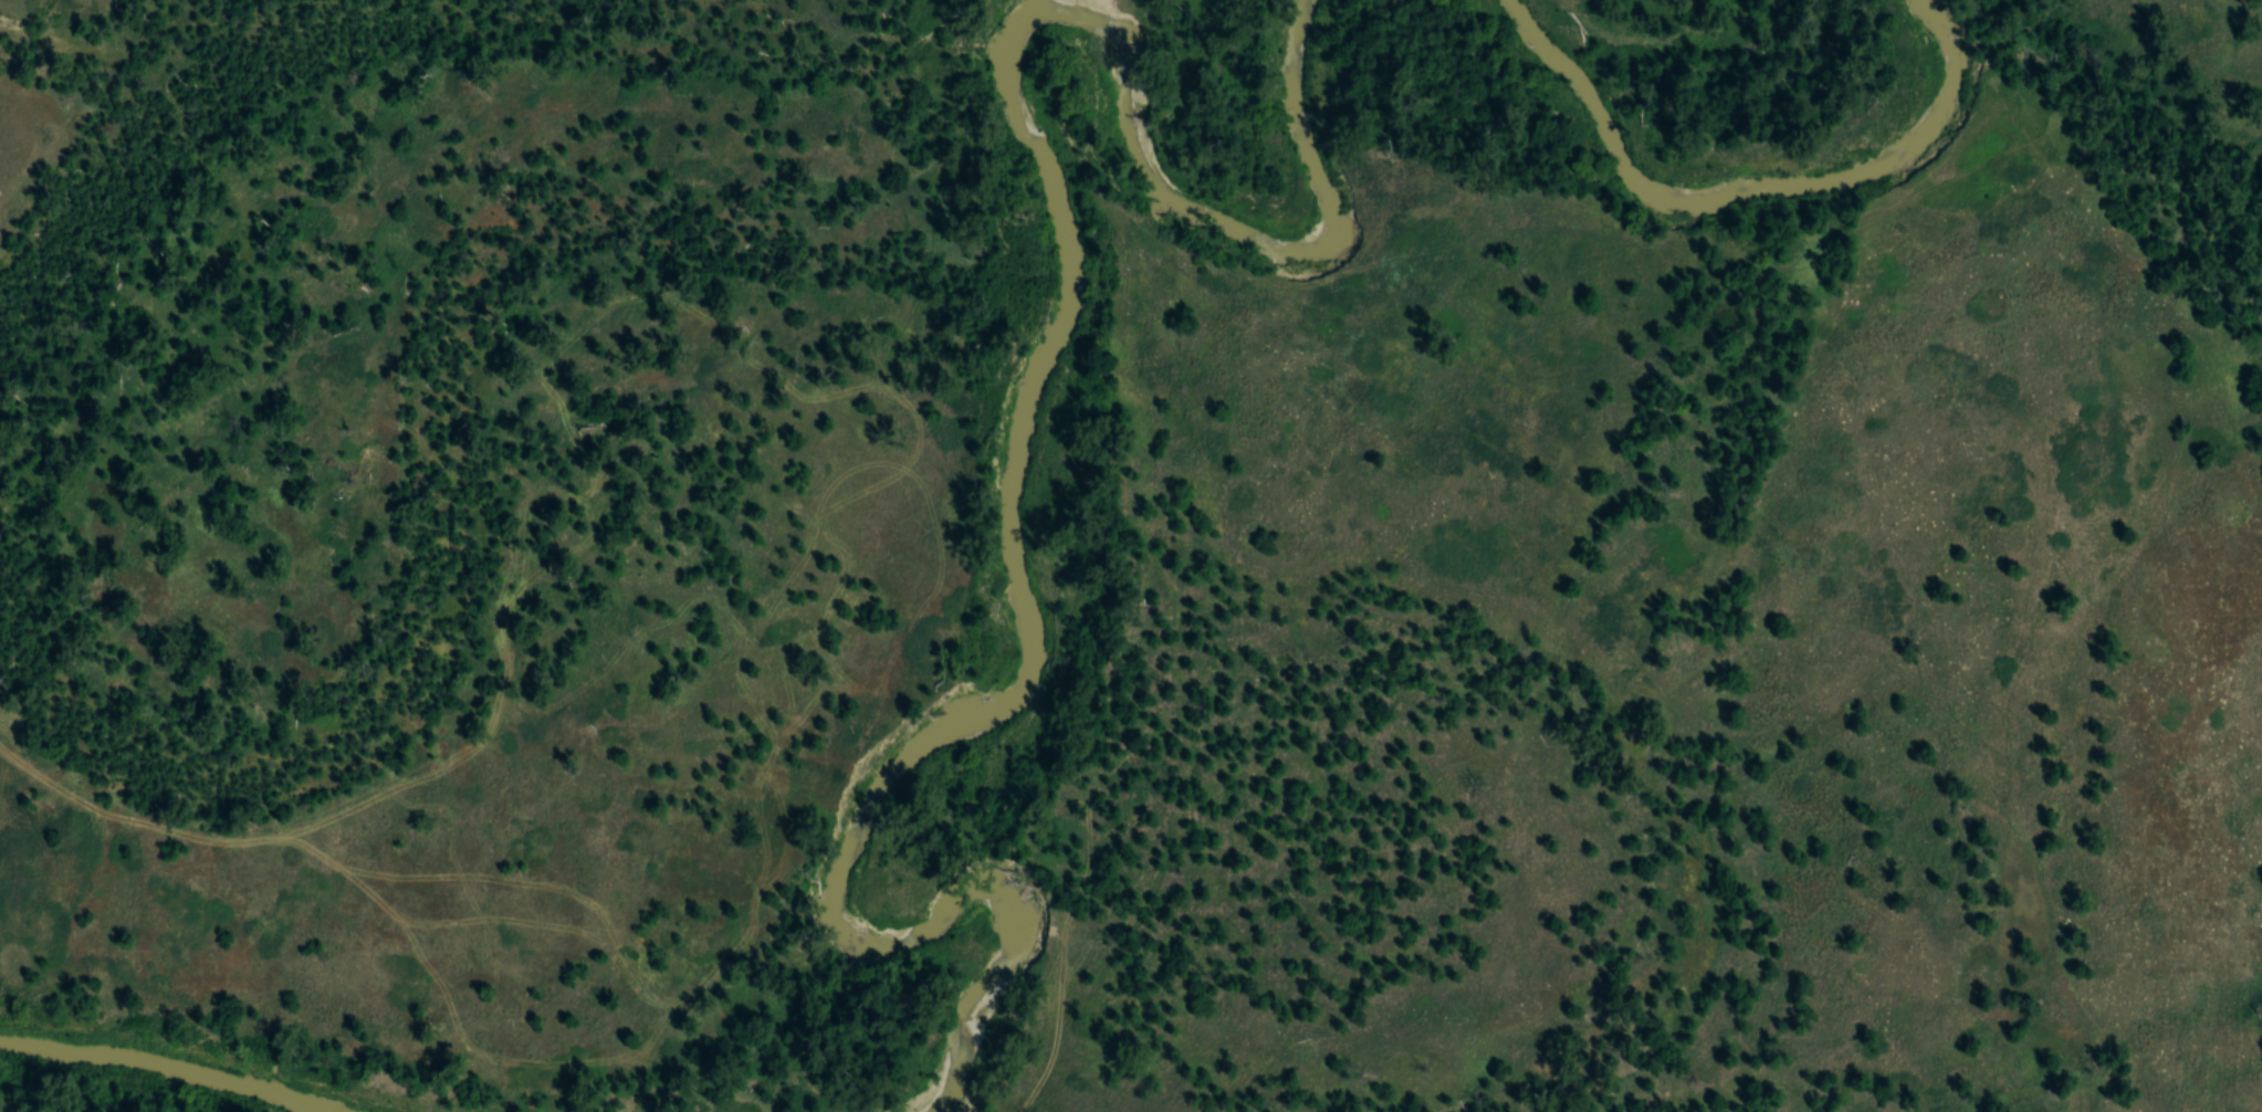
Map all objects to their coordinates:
river: (1746, 186)
river: (1038, 376)
river: (169, 1063)

